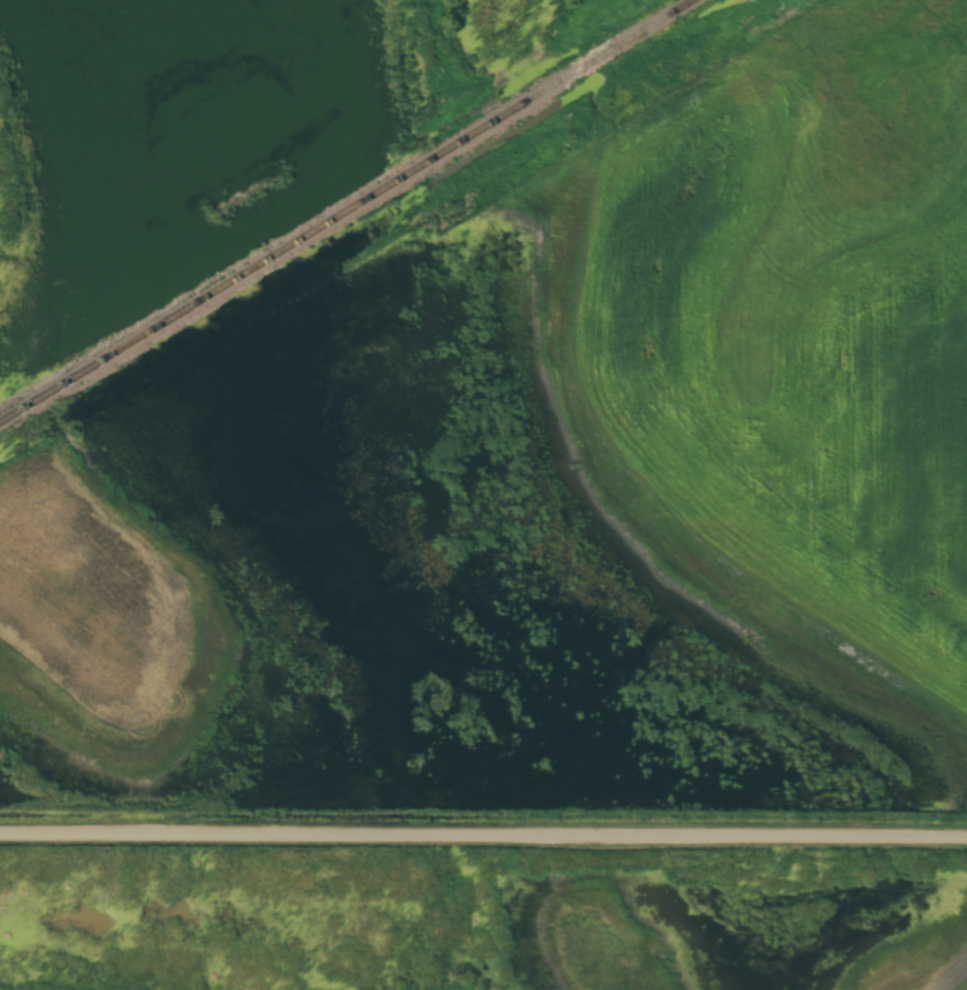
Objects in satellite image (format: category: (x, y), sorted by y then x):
railway: (349, 212)
road: (483, 833)

